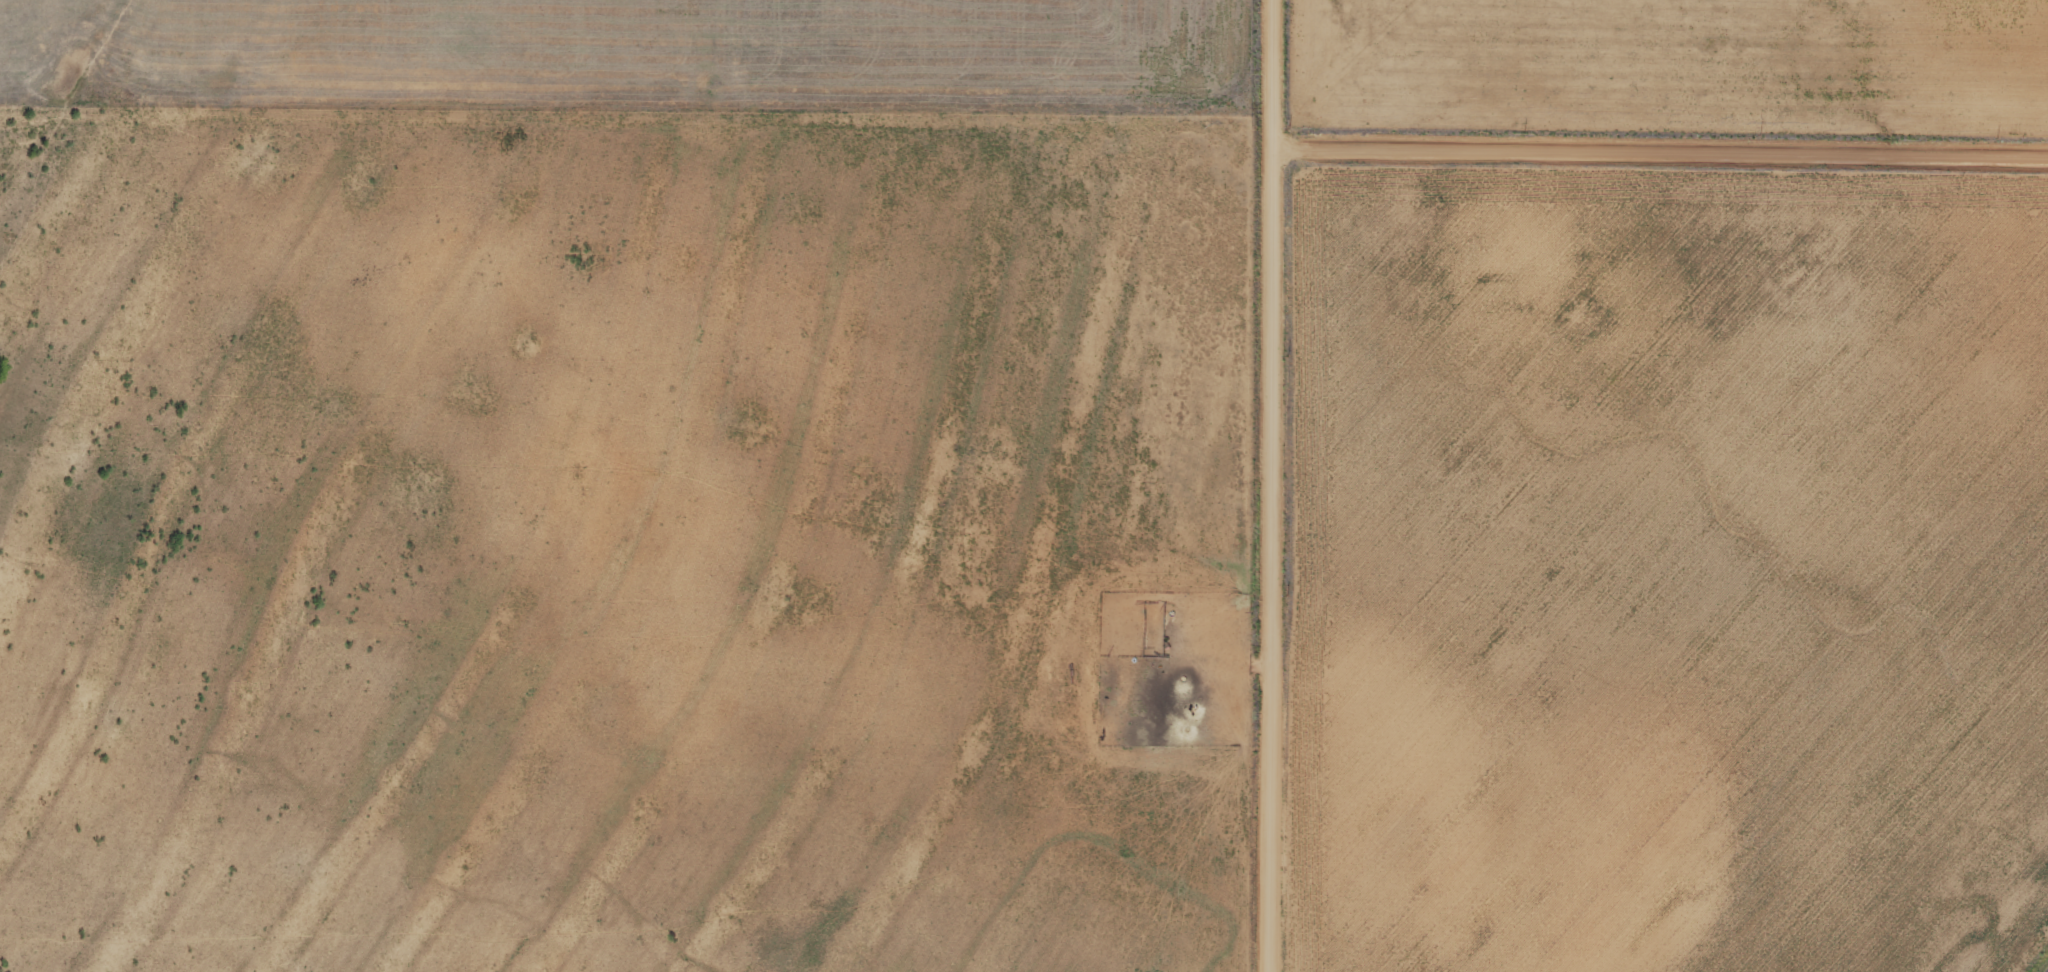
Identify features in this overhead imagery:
road: (1664, 147)
road: (1279, 486)
railway: (2028, 950)

